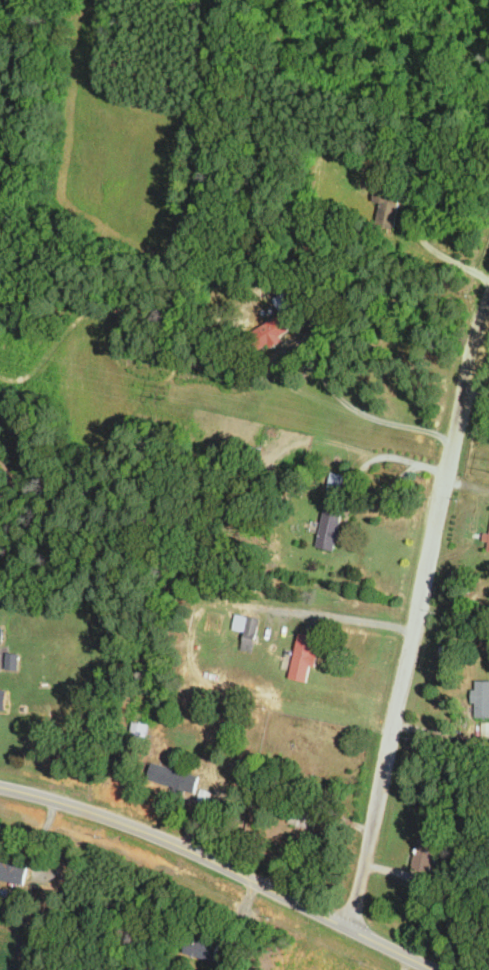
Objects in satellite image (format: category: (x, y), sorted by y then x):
building: (386, 207)
road: (446, 256)
building: (270, 333)
road: (359, 409)
power tower: (312, 455)
road: (353, 477)
building: (337, 485)
building: (331, 530)
road: (336, 616)
road: (417, 618)
building: (251, 634)
building: (1, 637)
building: (305, 659)
building: (482, 699)
building: (4, 700)
building: (140, 733)
building: (175, 779)
building: (305, 819)
building: (425, 856)
road: (220, 866)
building: (13, 874)
building: (203, 948)

